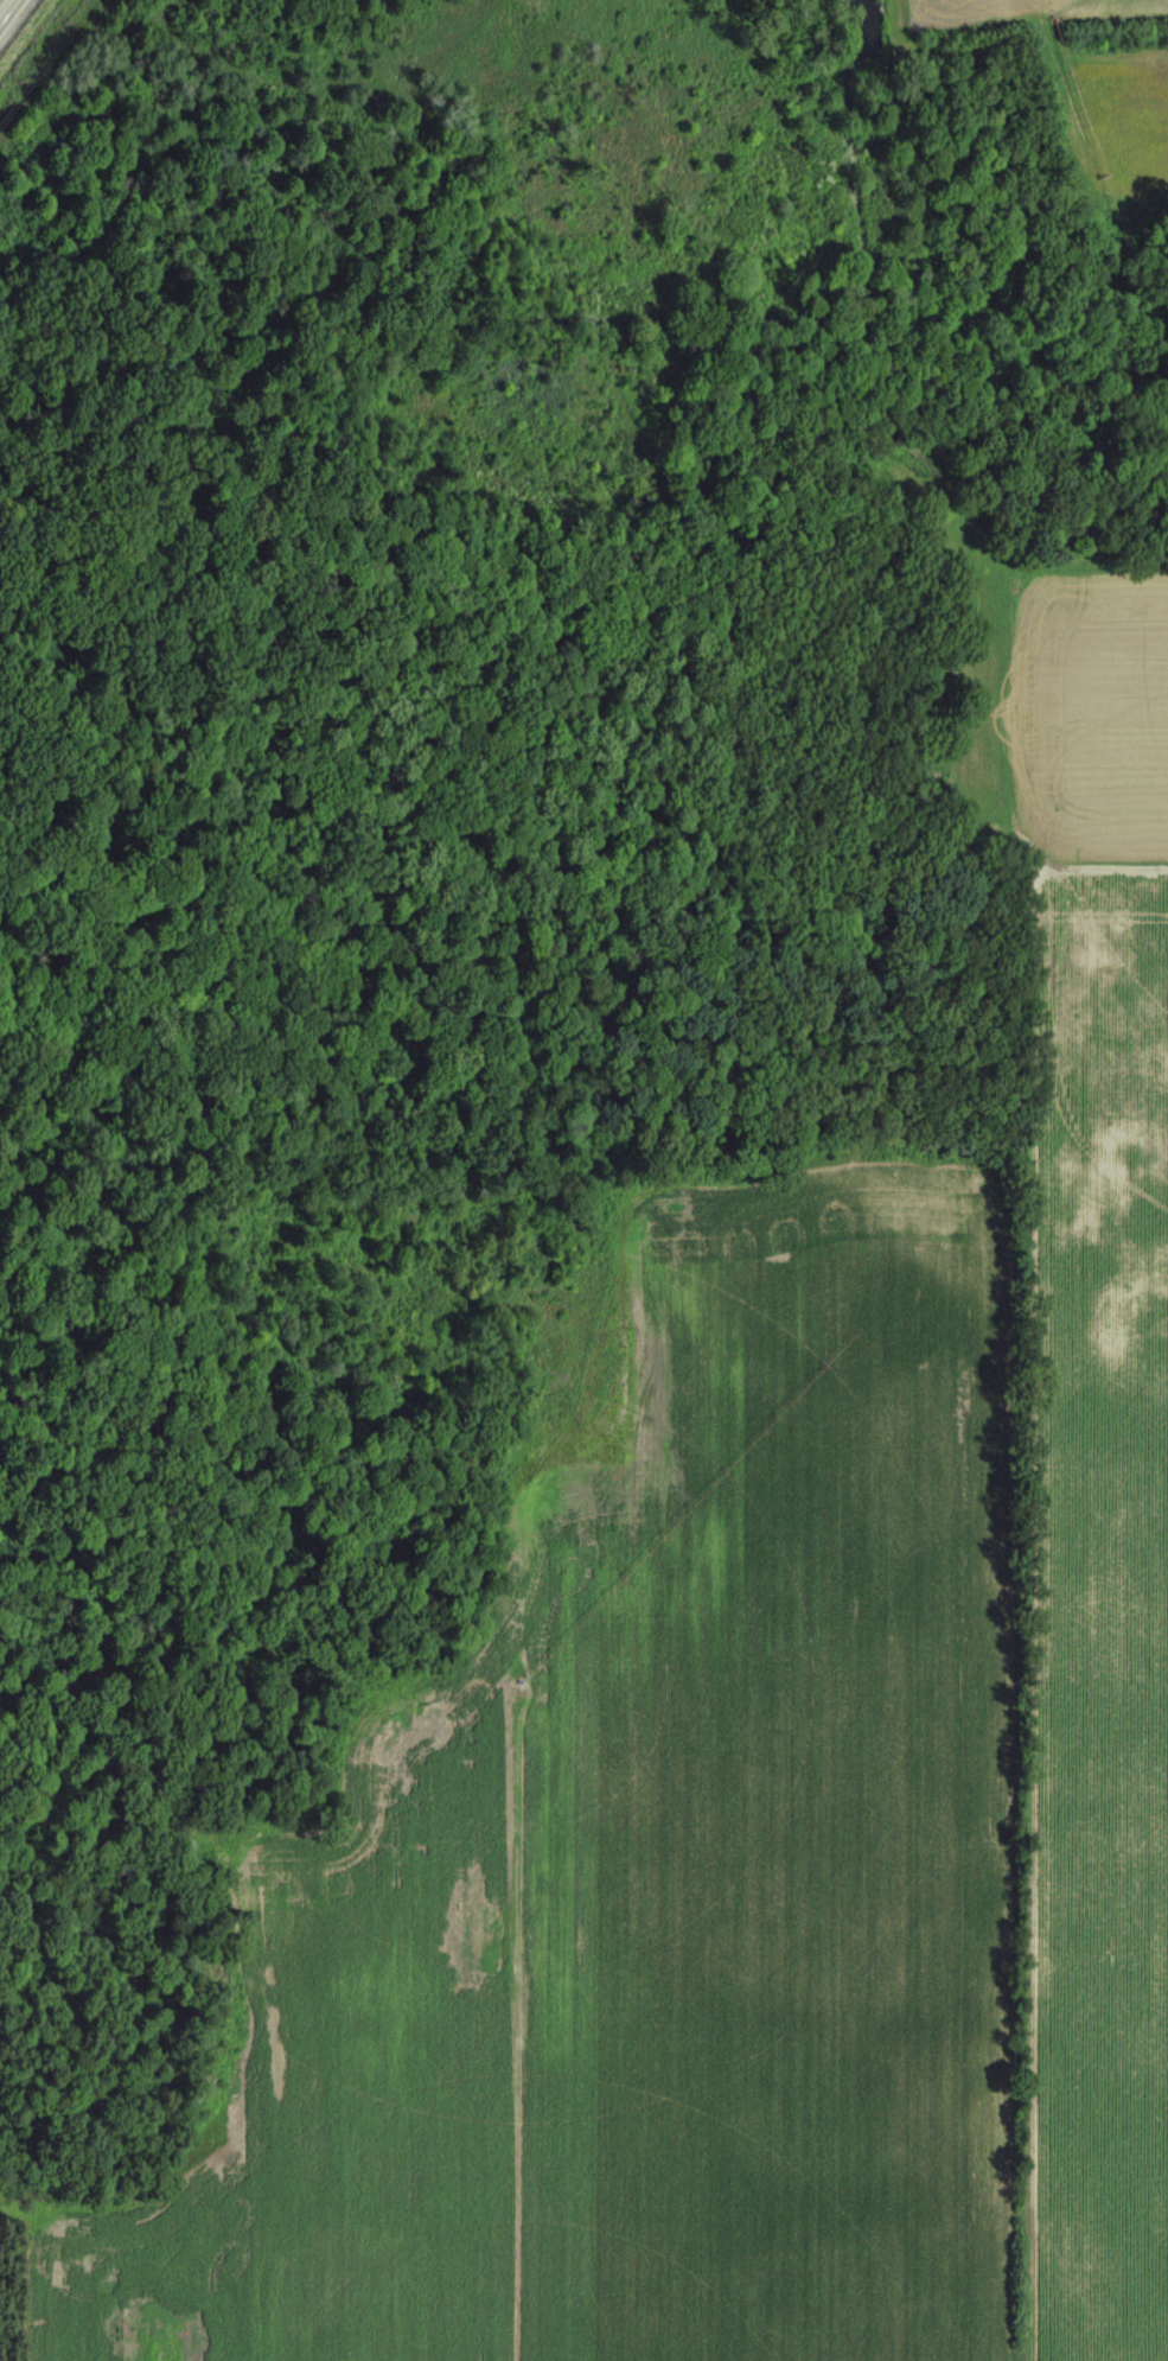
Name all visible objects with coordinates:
railway: (9, 13)

